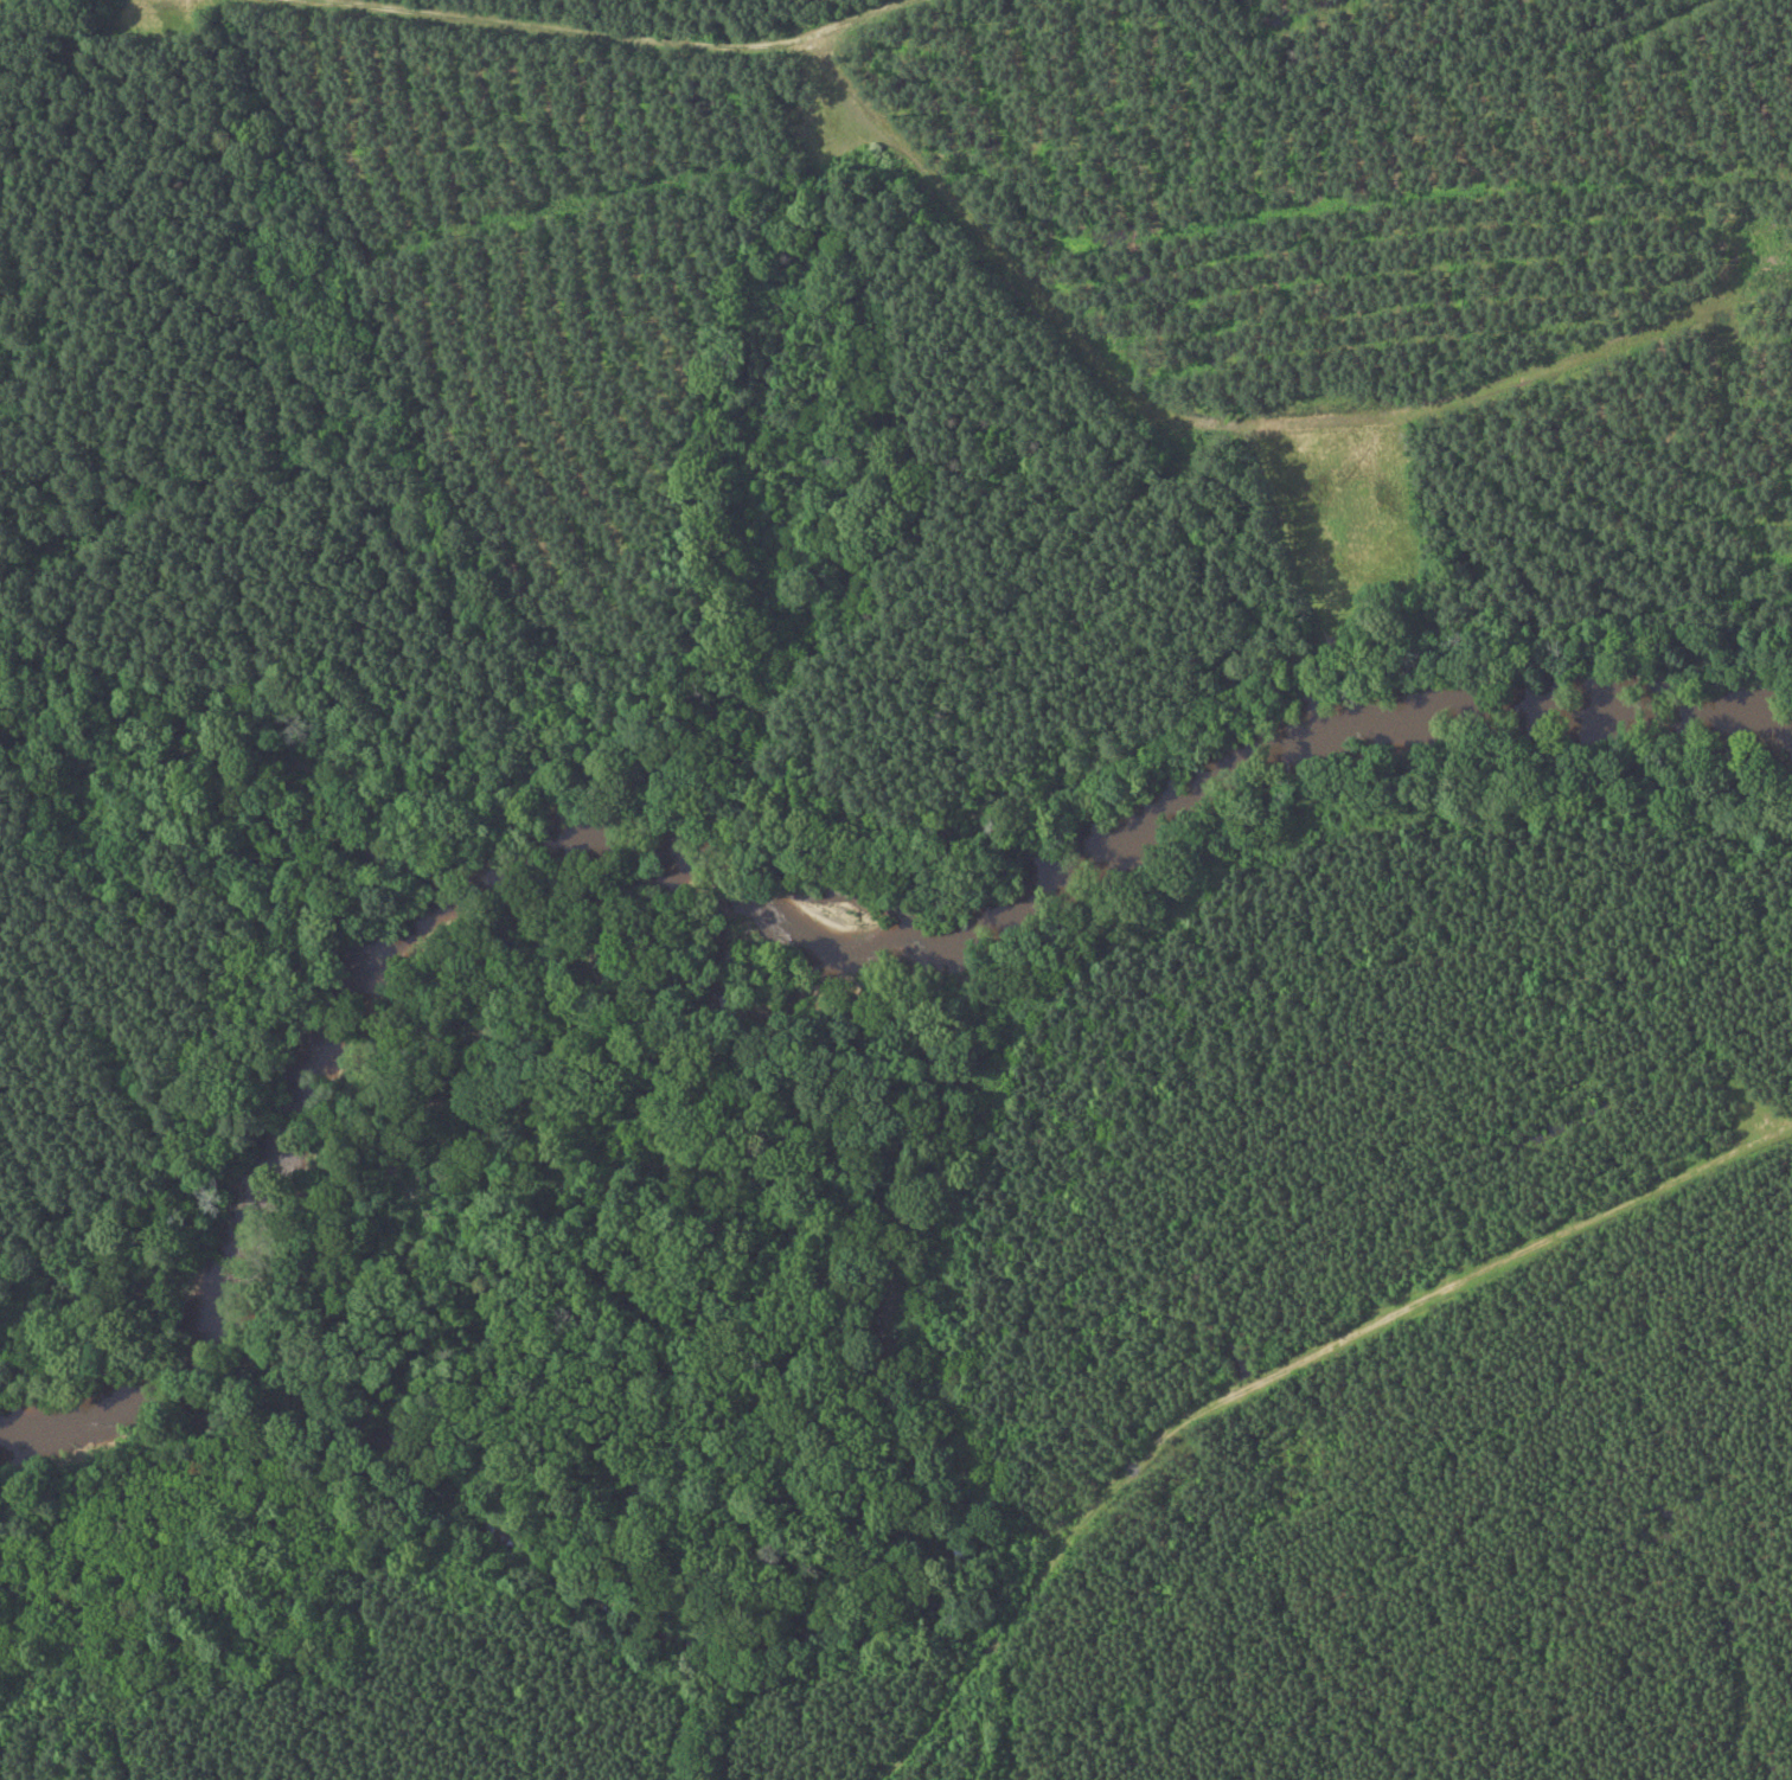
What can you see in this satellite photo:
river: (1346, 731)
river: (449, 875)
river: (102, 1342)

